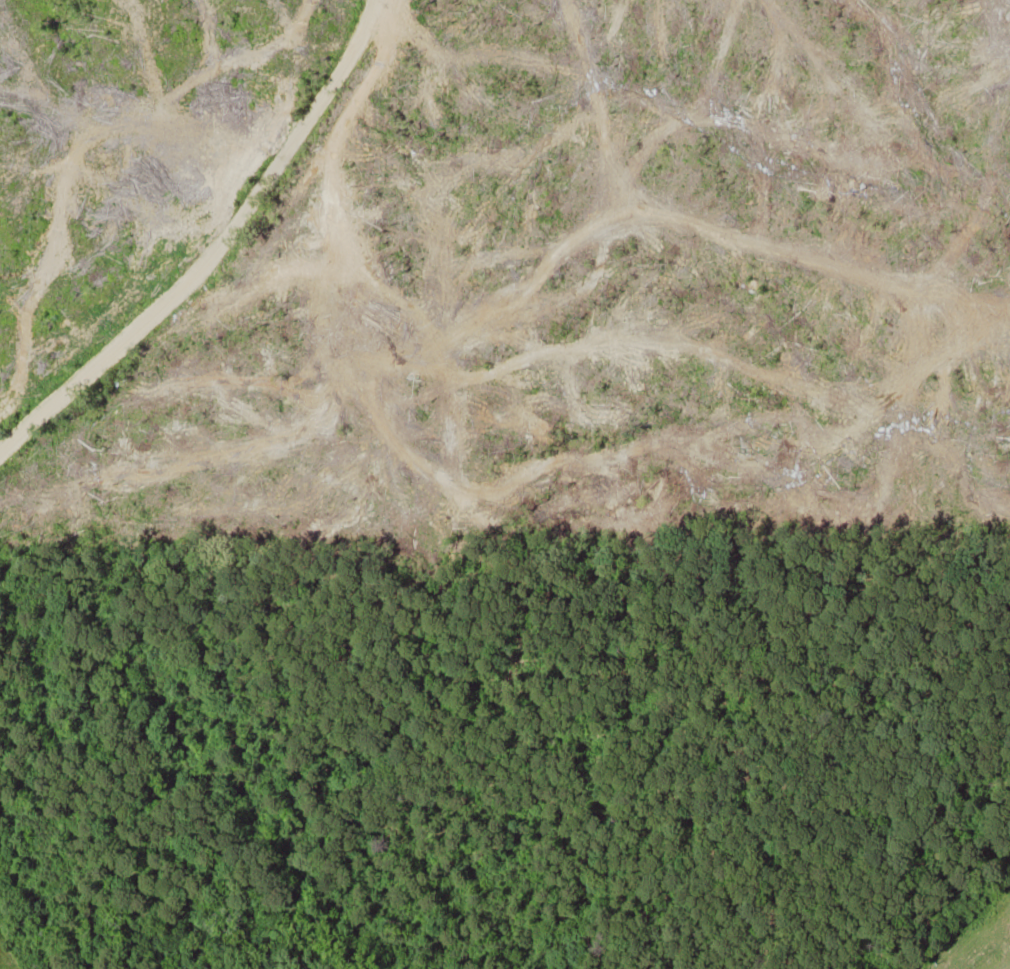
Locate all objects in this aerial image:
road: (250, 285)

